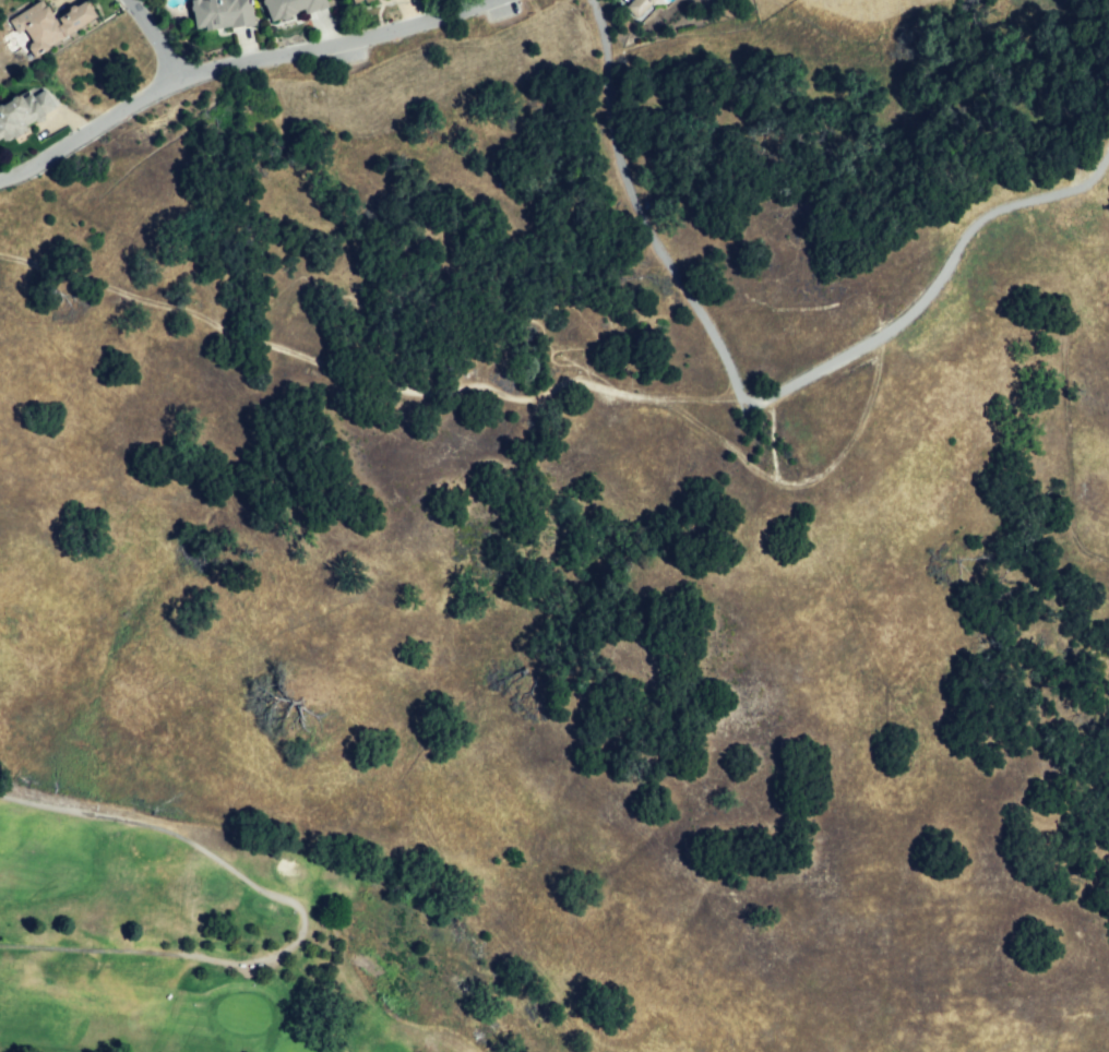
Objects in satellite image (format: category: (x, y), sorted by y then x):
building: (353, 0)
building: (363, 2)
building: (636, 5)
building: (649, 5)
building: (298, 9)
building: (225, 12)
building: (48, 24)
road: (152, 37)
road: (241, 62)
building: (24, 111)
road: (360, 381)
road: (751, 408)
road: (801, 482)
road: (309, 911)
park: (254, 941)

